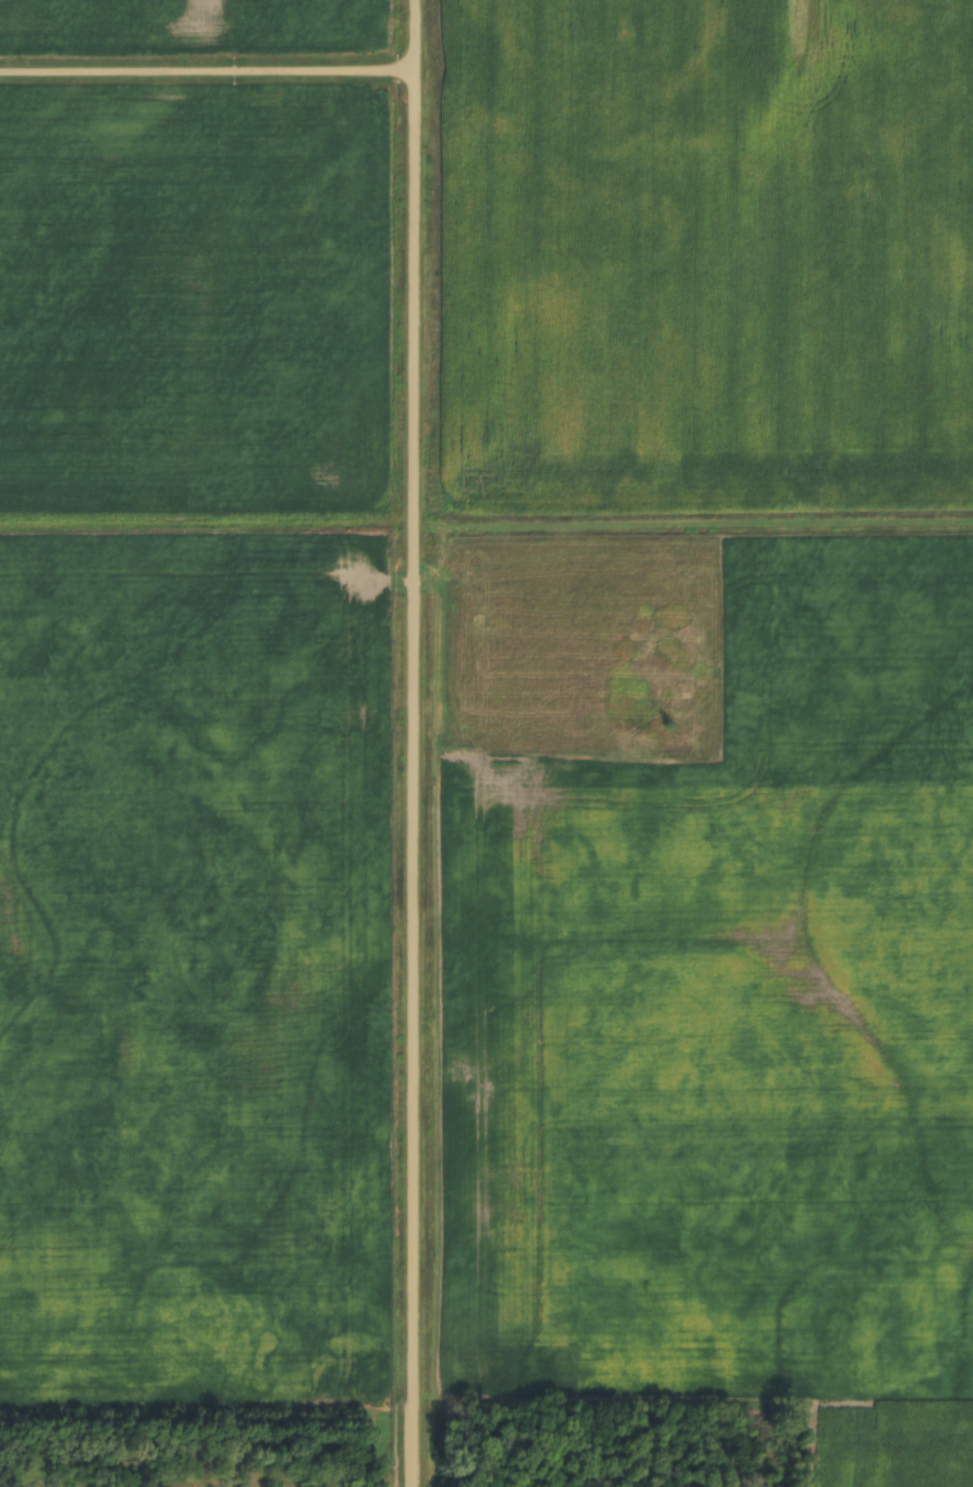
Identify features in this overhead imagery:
road: (207, 73)
road: (693, 528)
road: (414, 743)

